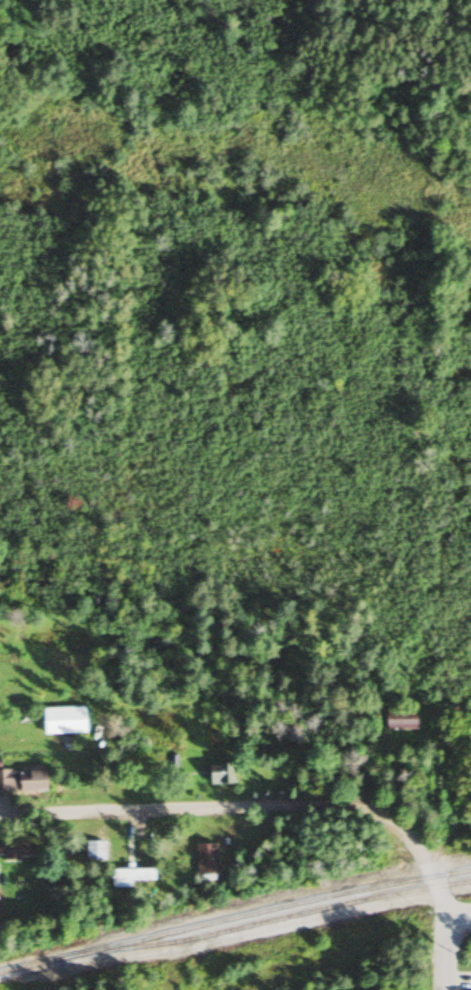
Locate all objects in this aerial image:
building: (62, 721)
building: (399, 721)
building: (217, 775)
building: (21, 781)
road: (257, 805)
building: (13, 851)
building: (93, 851)
building: (204, 860)
building: (127, 878)
railway: (262, 911)
road: (459, 914)
railway: (263, 923)
road: (444, 952)
railway: (28, 966)

